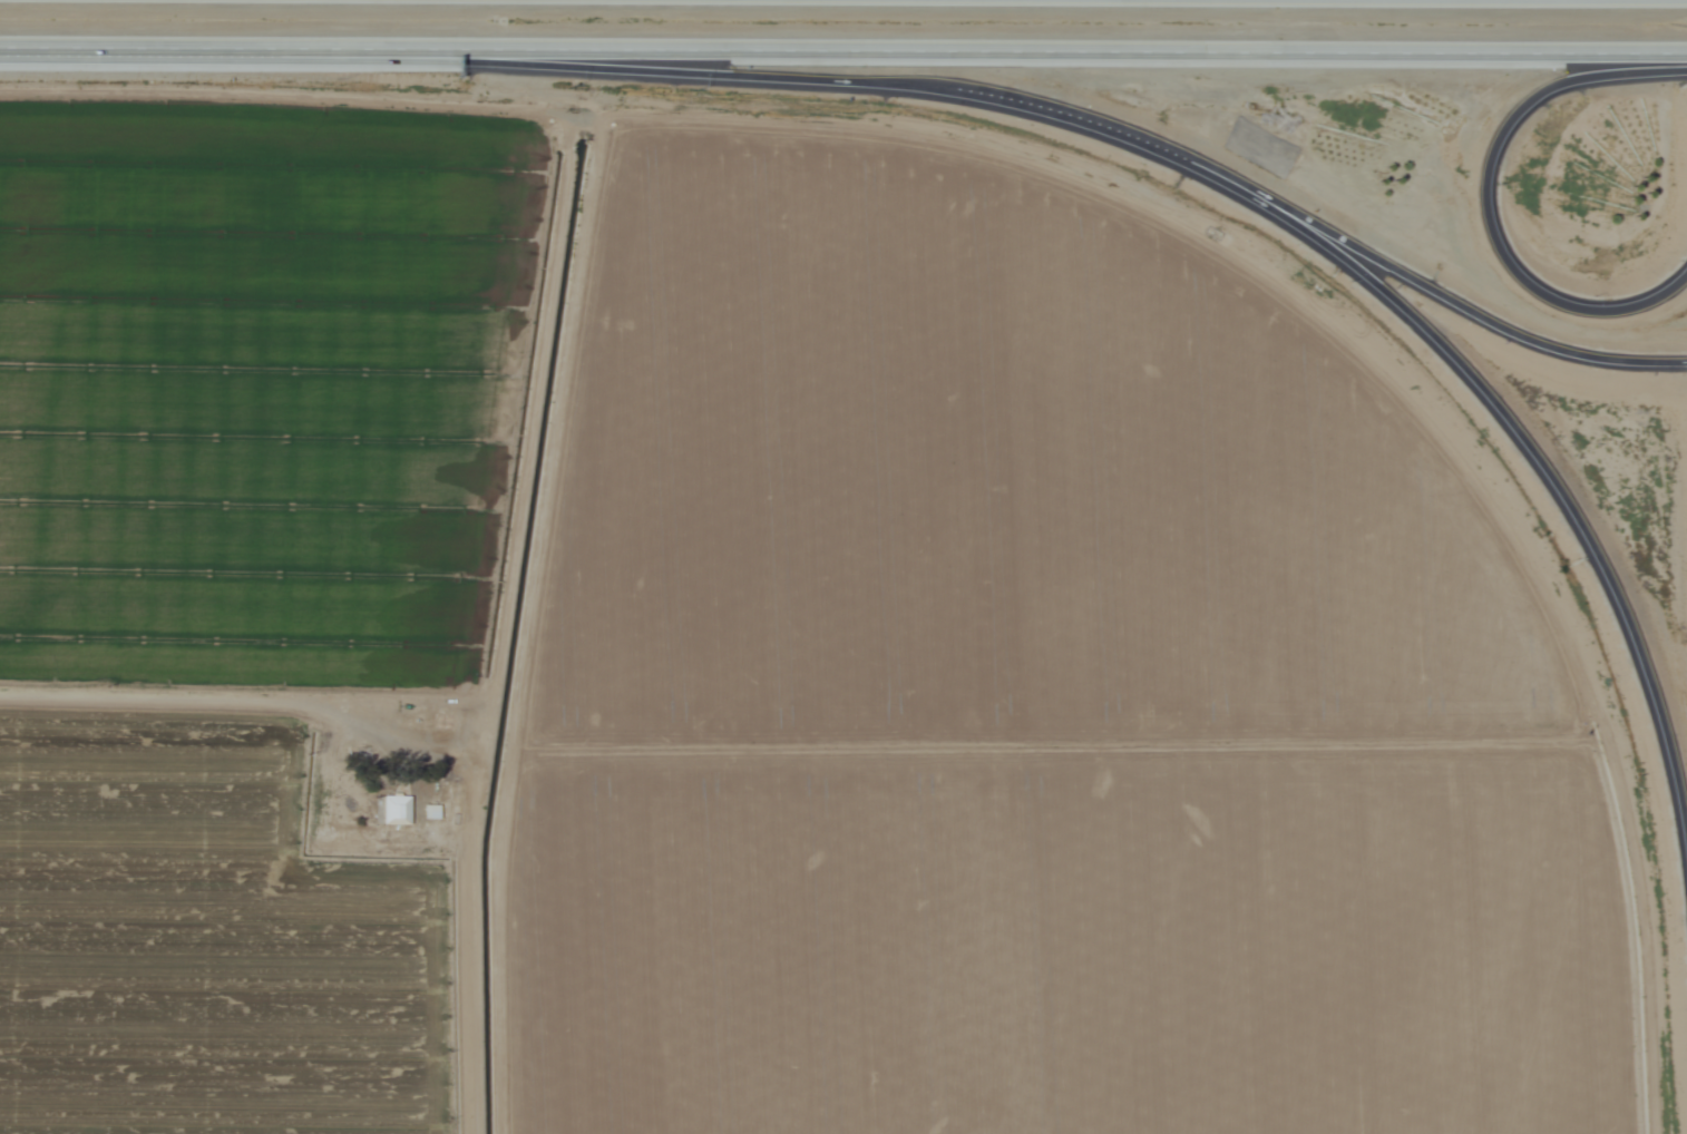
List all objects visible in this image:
road: (842, 50)
road: (664, 75)
road: (1484, 199)
road: (1428, 292)
road: (1528, 452)
building: (393, 811)

